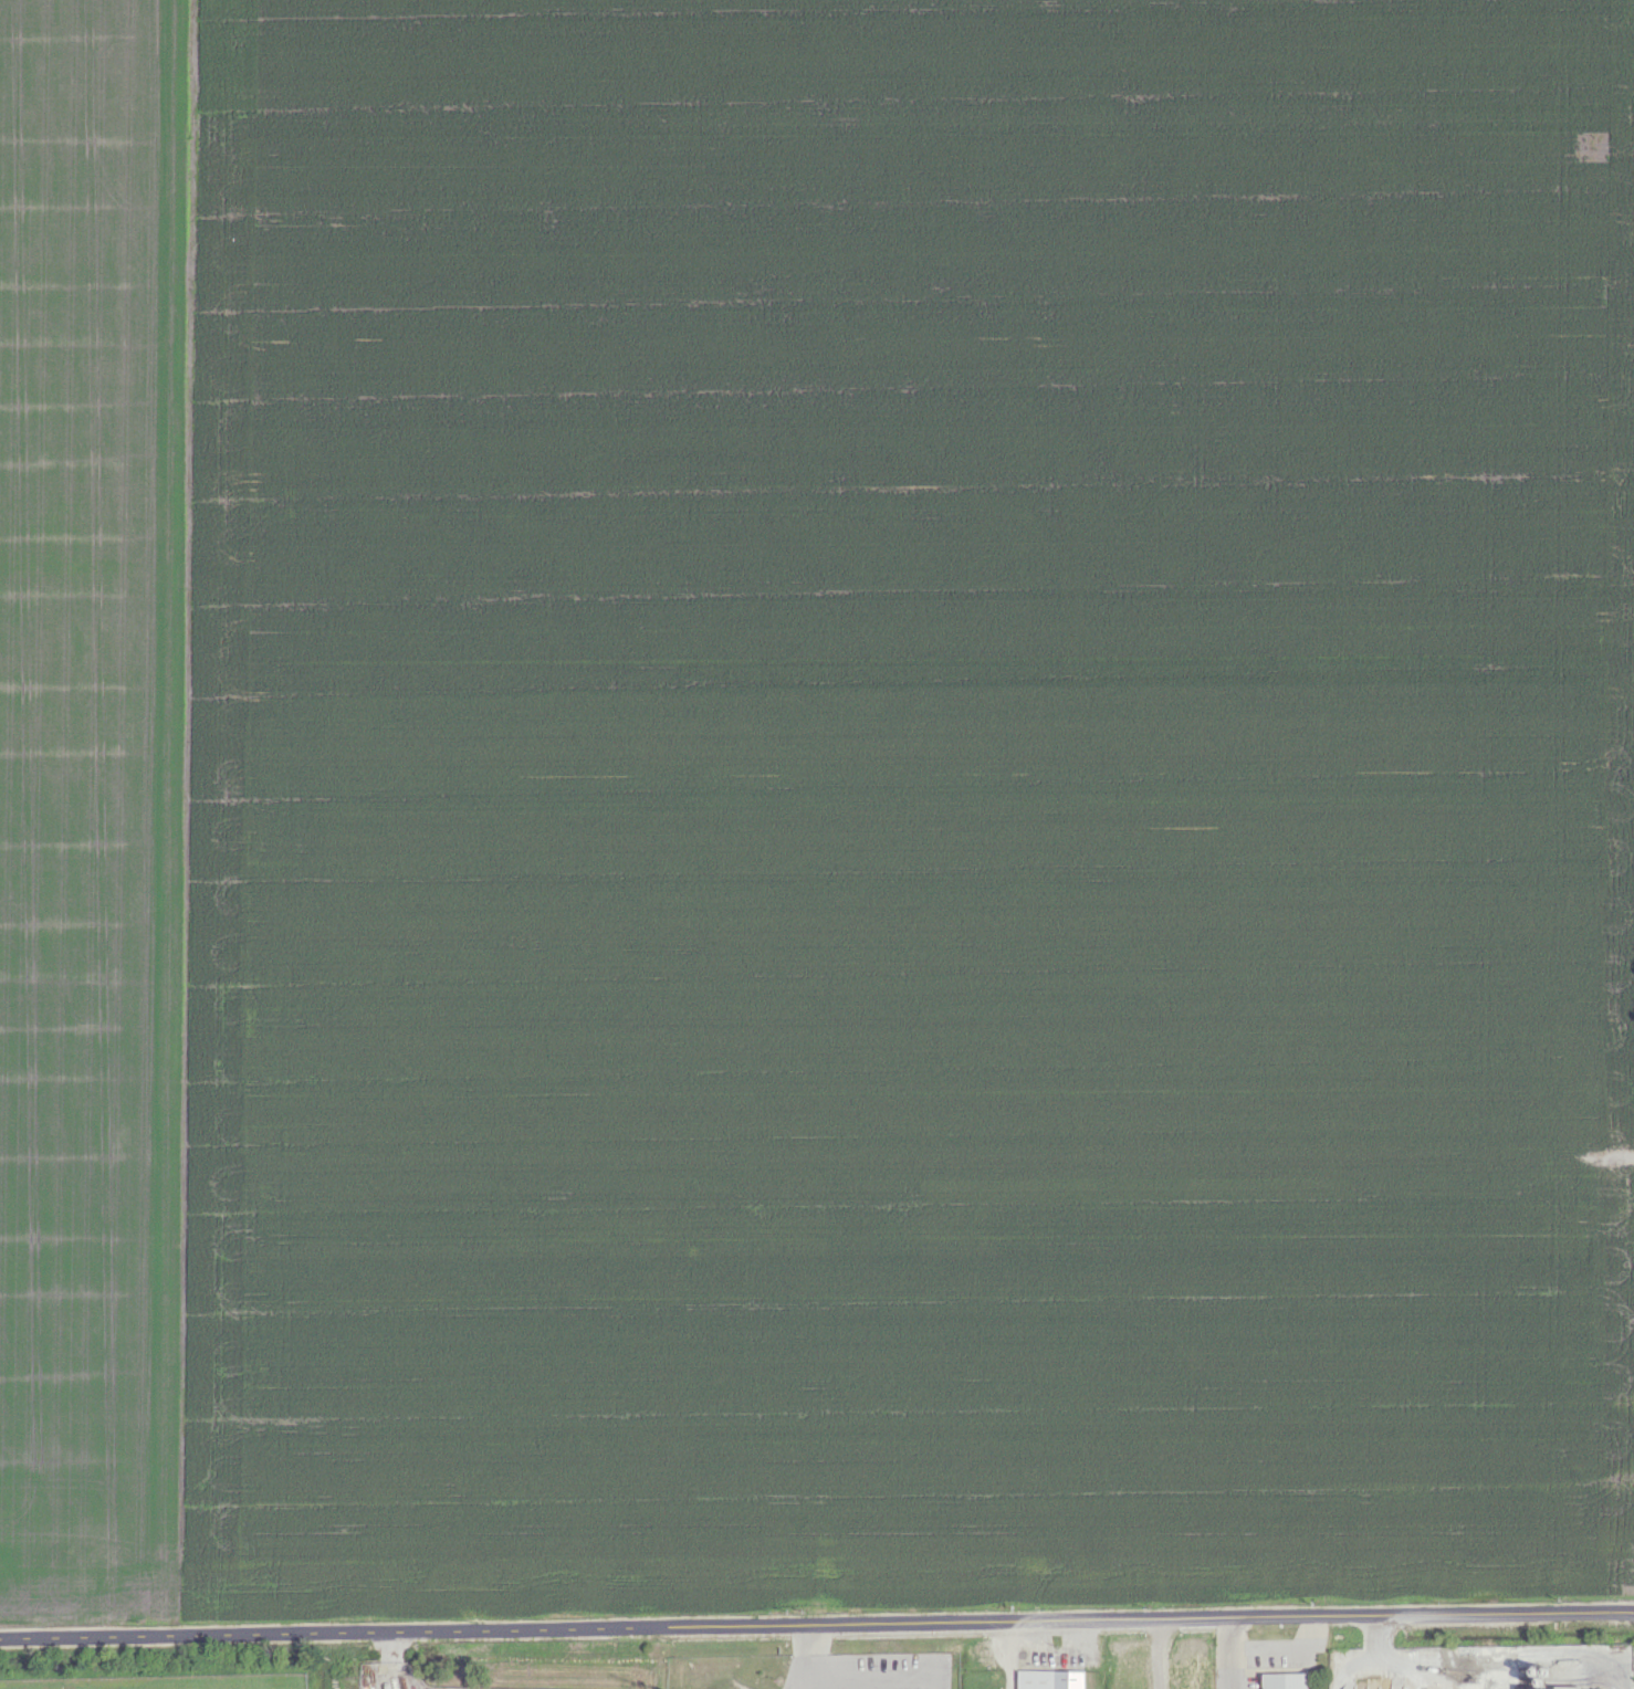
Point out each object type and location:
road: (817, 1623)
road: (1153, 1654)
road: (1491, 1654)
building: (1049, 1679)
building: (1285, 1680)
building: (1552, 1688)

